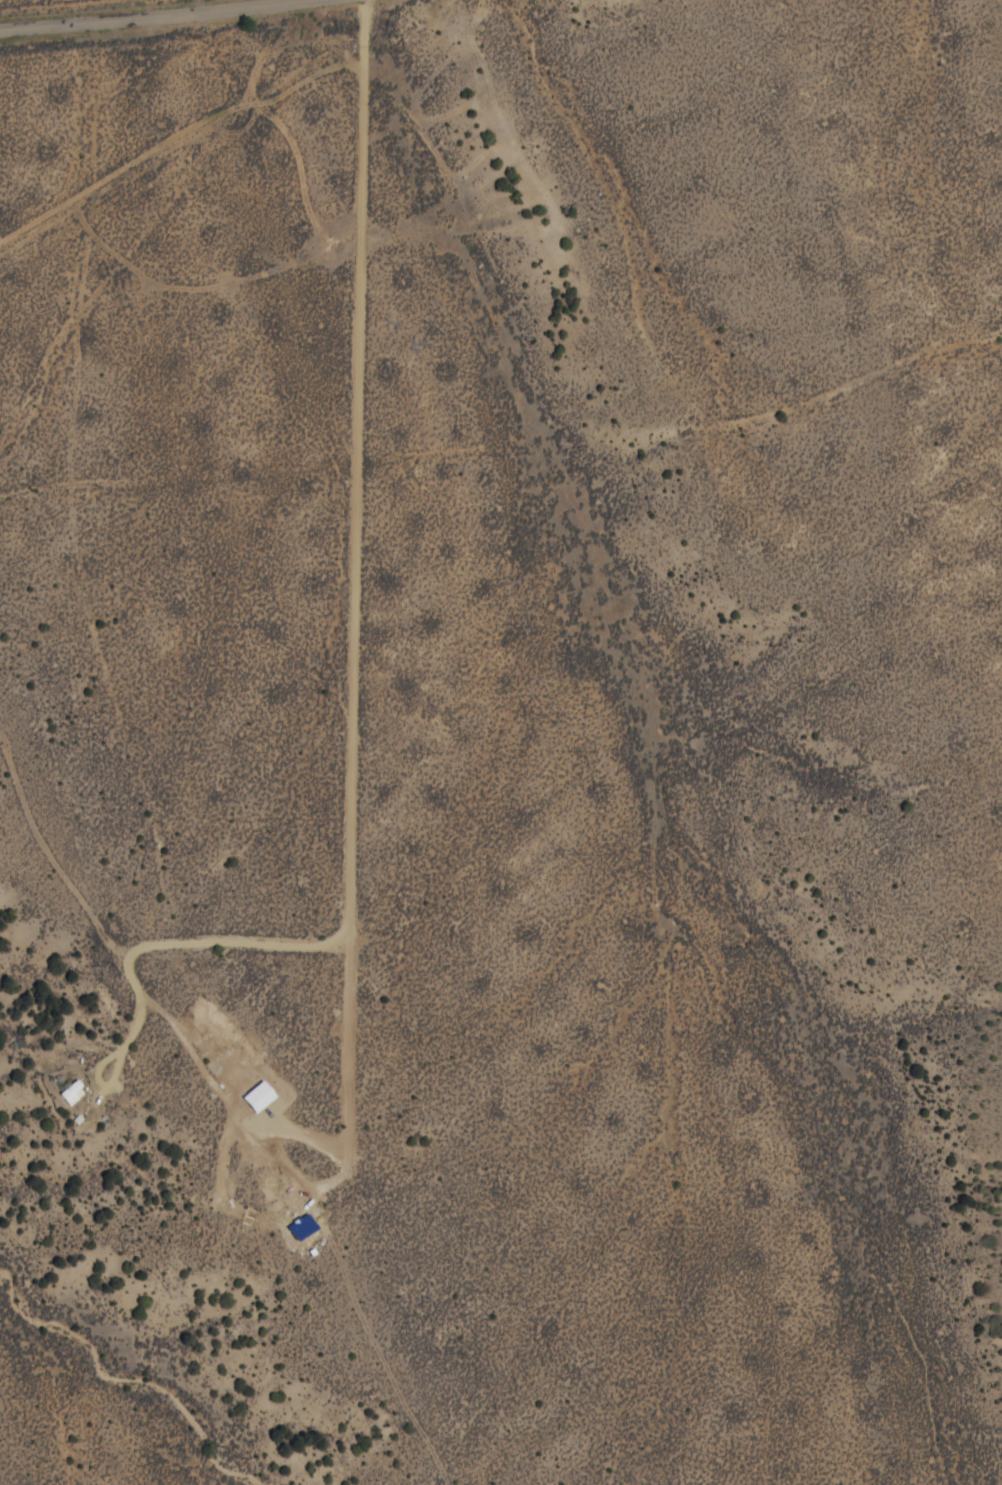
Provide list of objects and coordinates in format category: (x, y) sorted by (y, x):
road: (118, 11)

